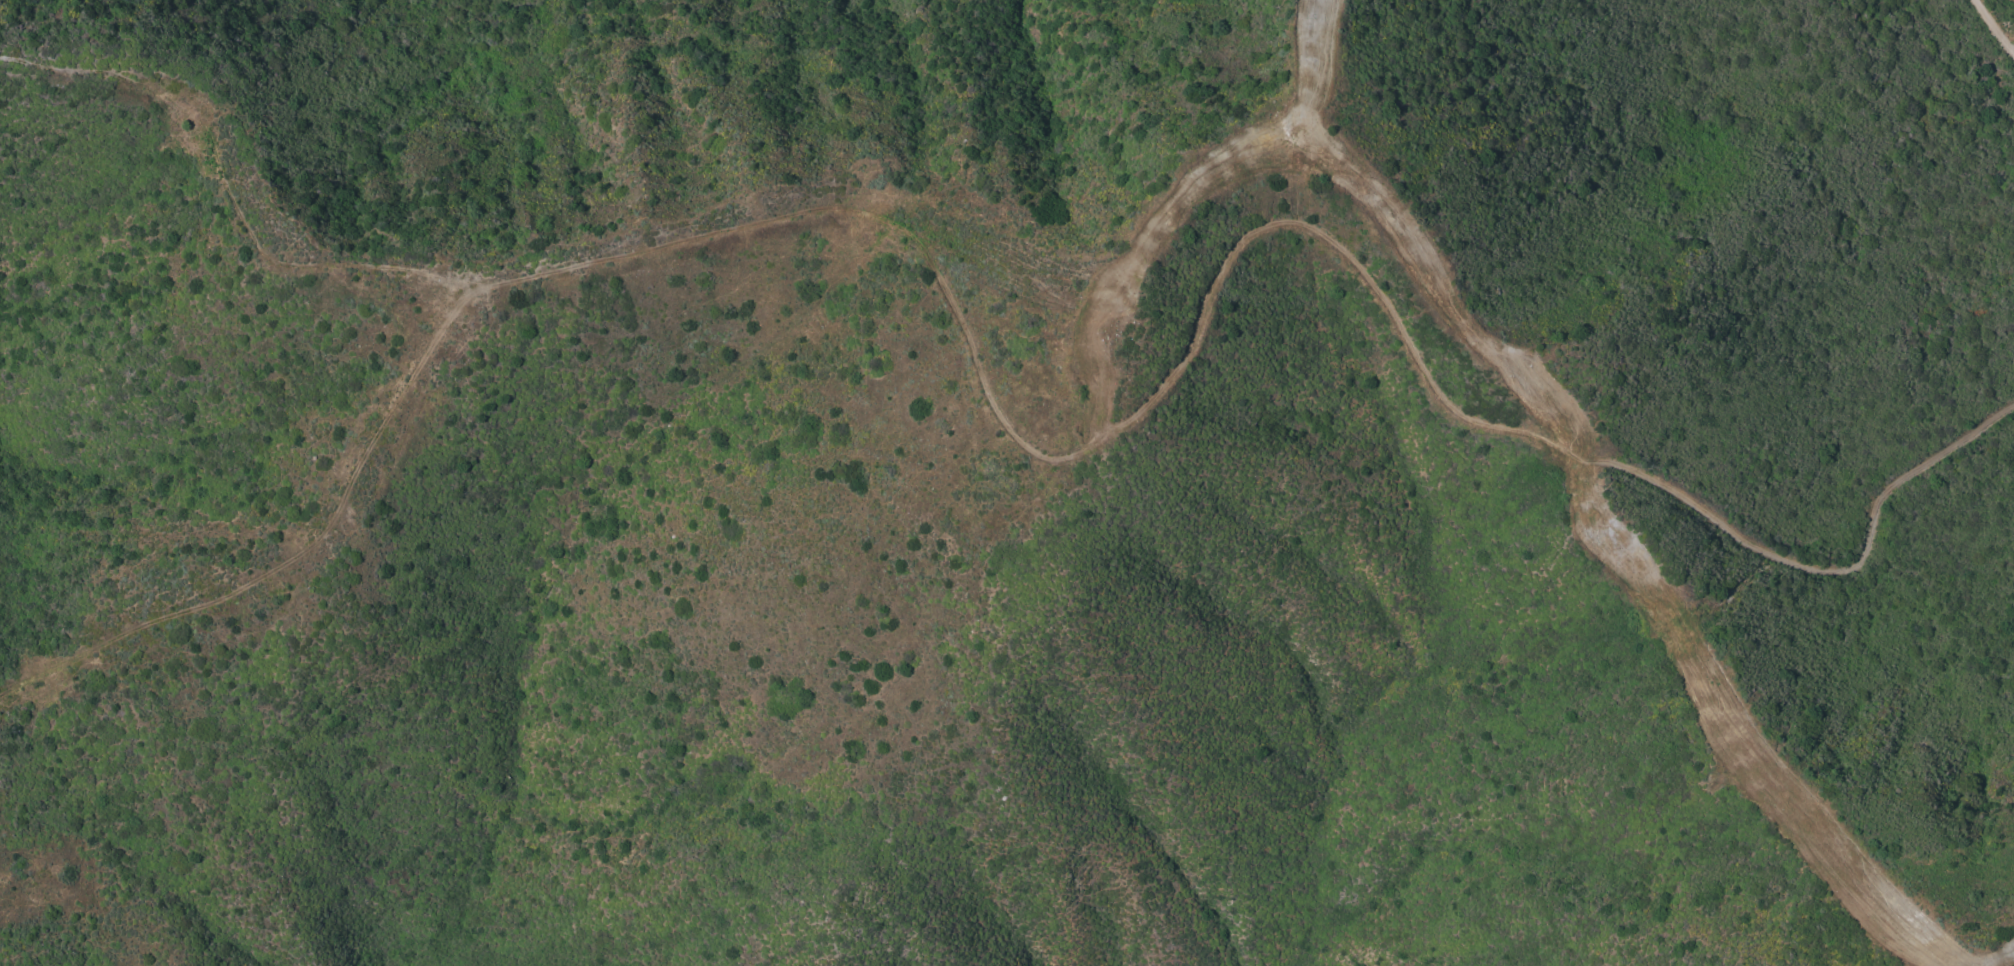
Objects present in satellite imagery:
road: (1994, 26)
road: (538, 274)

